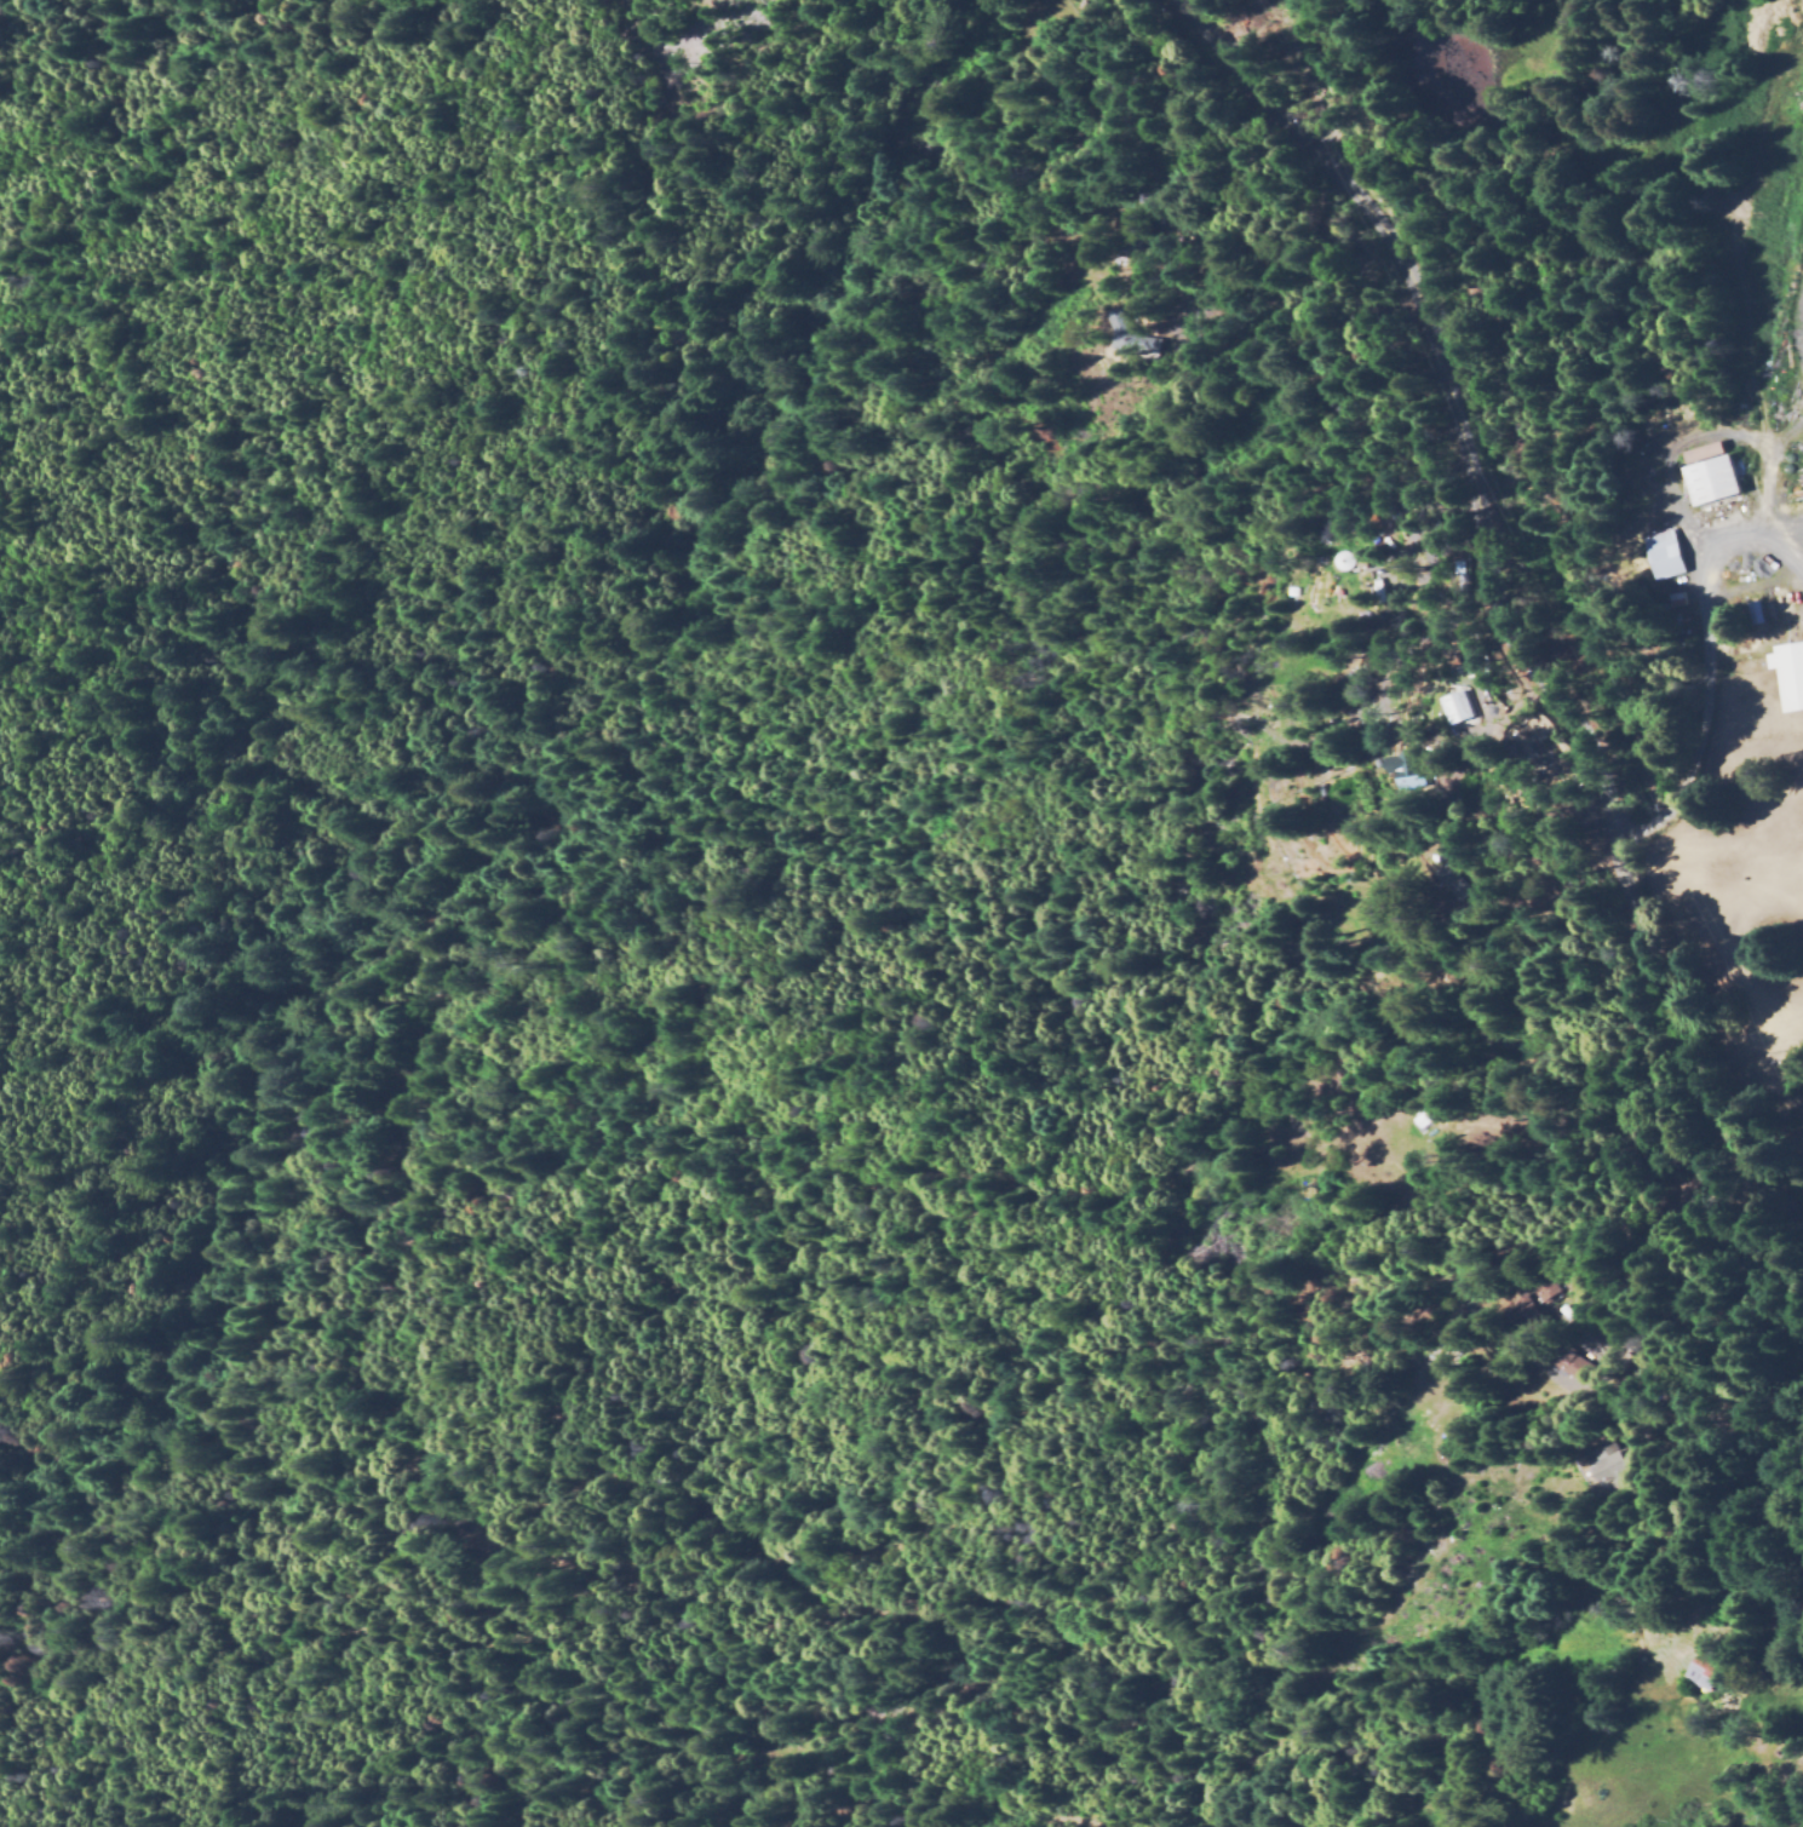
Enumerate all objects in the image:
building: (1086, 12)
building: (1121, 334)
building: (1707, 473)
building: (1663, 555)
building: (1343, 559)
road: (1503, 609)
building: (1788, 674)
building: (1463, 706)
road: (1702, 729)
building: (1419, 776)
building: (1463, 877)
building: (1425, 1120)
building: (1545, 1287)
building: (1532, 1316)
building: (1580, 1364)
building: (1618, 1461)
building: (1606, 1471)
building: (1726, 1609)
building: (1698, 1681)

